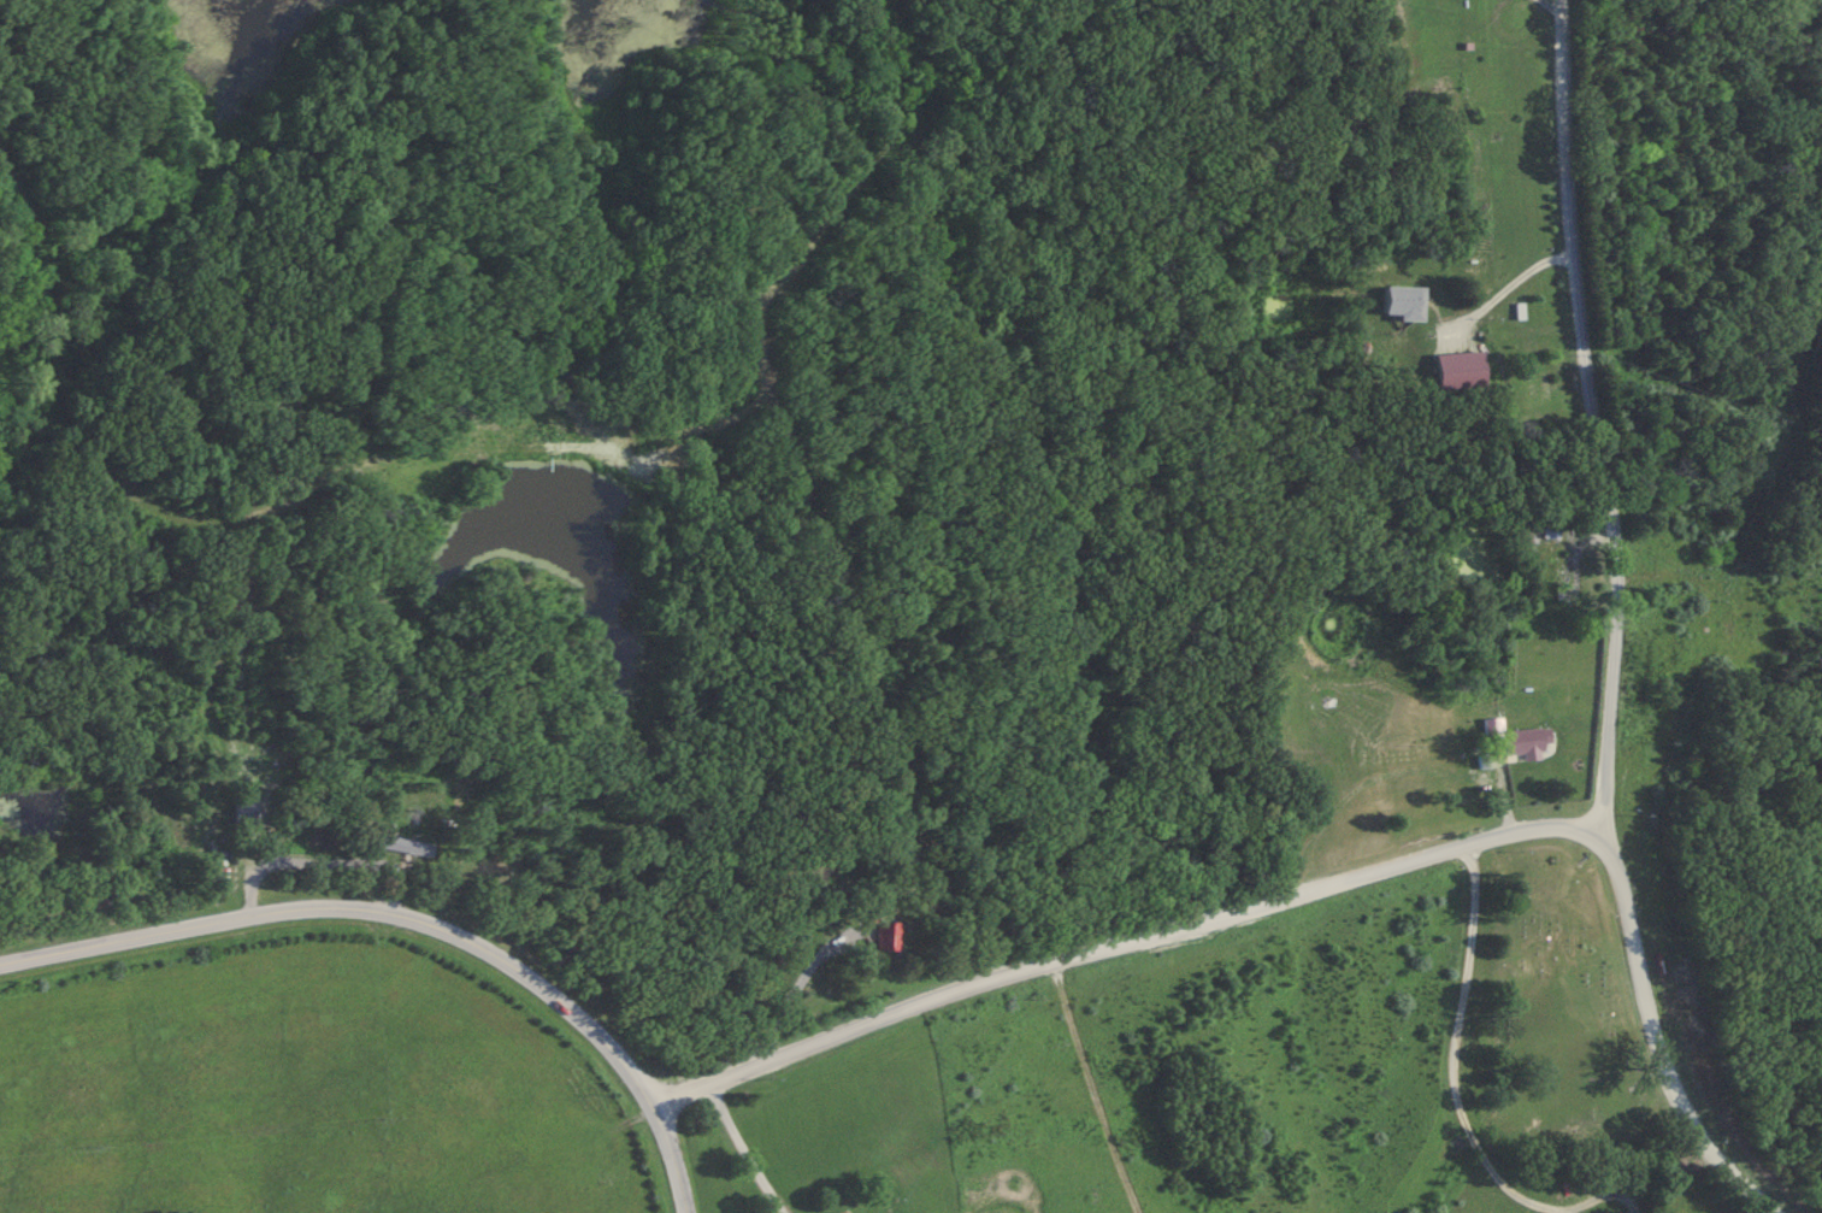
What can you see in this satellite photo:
road: (1552, 25)
road: (1500, 287)
building: (1402, 302)
building: (1458, 371)
road: (1593, 424)
building: (1570, 575)
building: (1526, 741)
road: (1398, 772)
building: (405, 847)
road: (1323, 887)
road: (413, 924)
building: (888, 937)
park: (1556, 1003)
road: (1457, 1050)
road: (742, 1149)
building: (844, 1212)

